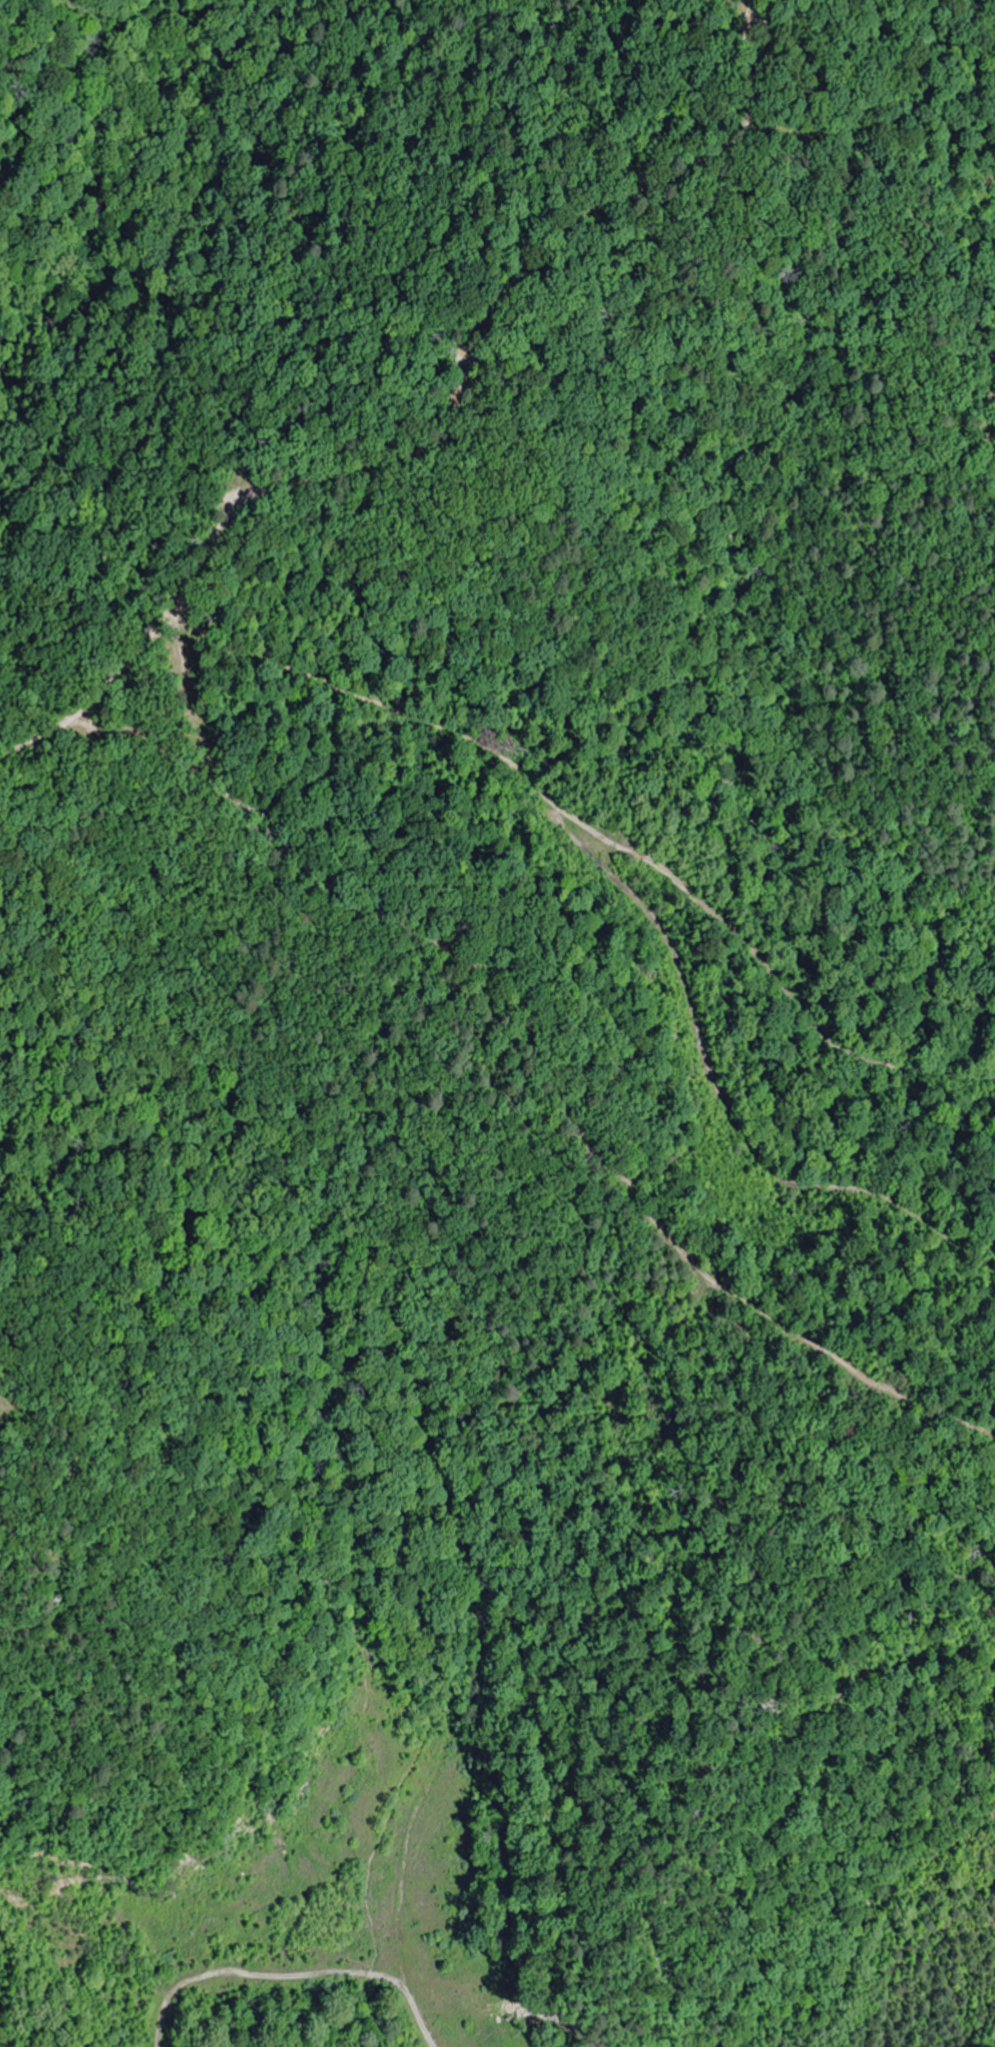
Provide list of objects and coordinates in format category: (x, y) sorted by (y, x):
road: (439, 409)

